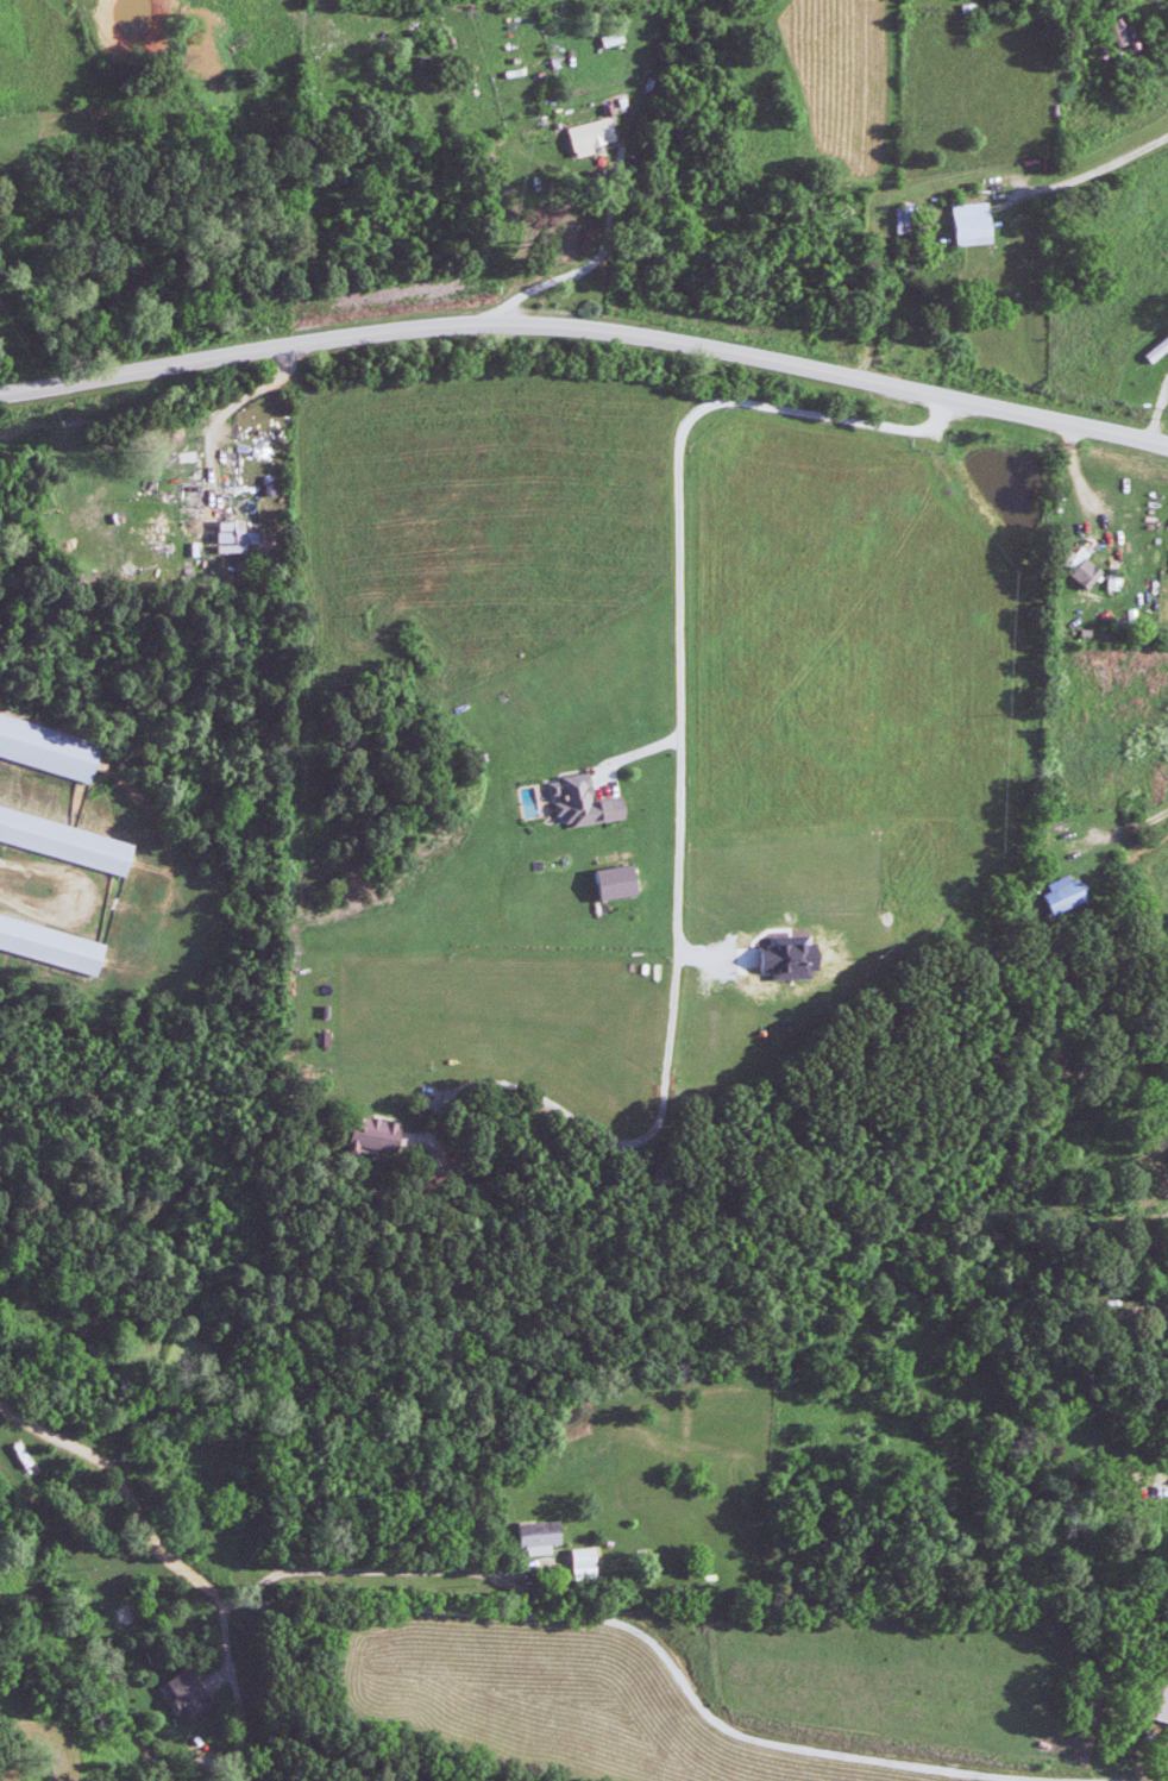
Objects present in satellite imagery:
building: (1130, 37)
building: (609, 38)
building: (1167, 49)
building: (589, 134)
road: (942, 178)
road: (610, 221)
building: (969, 224)
road: (586, 327)
building: (1156, 350)
building: (233, 533)
building: (1085, 573)
building: (48, 747)
road: (680, 767)
road: (1124, 829)
building: (65, 838)
building: (616, 883)
building: (1061, 895)
building: (50, 943)
building: (787, 959)
building: (372, 1135)
road: (1139, 1448)
building: (536, 1537)
building: (582, 1563)
road: (496, 1612)
building: (188, 1693)
building: (1163, 1704)

